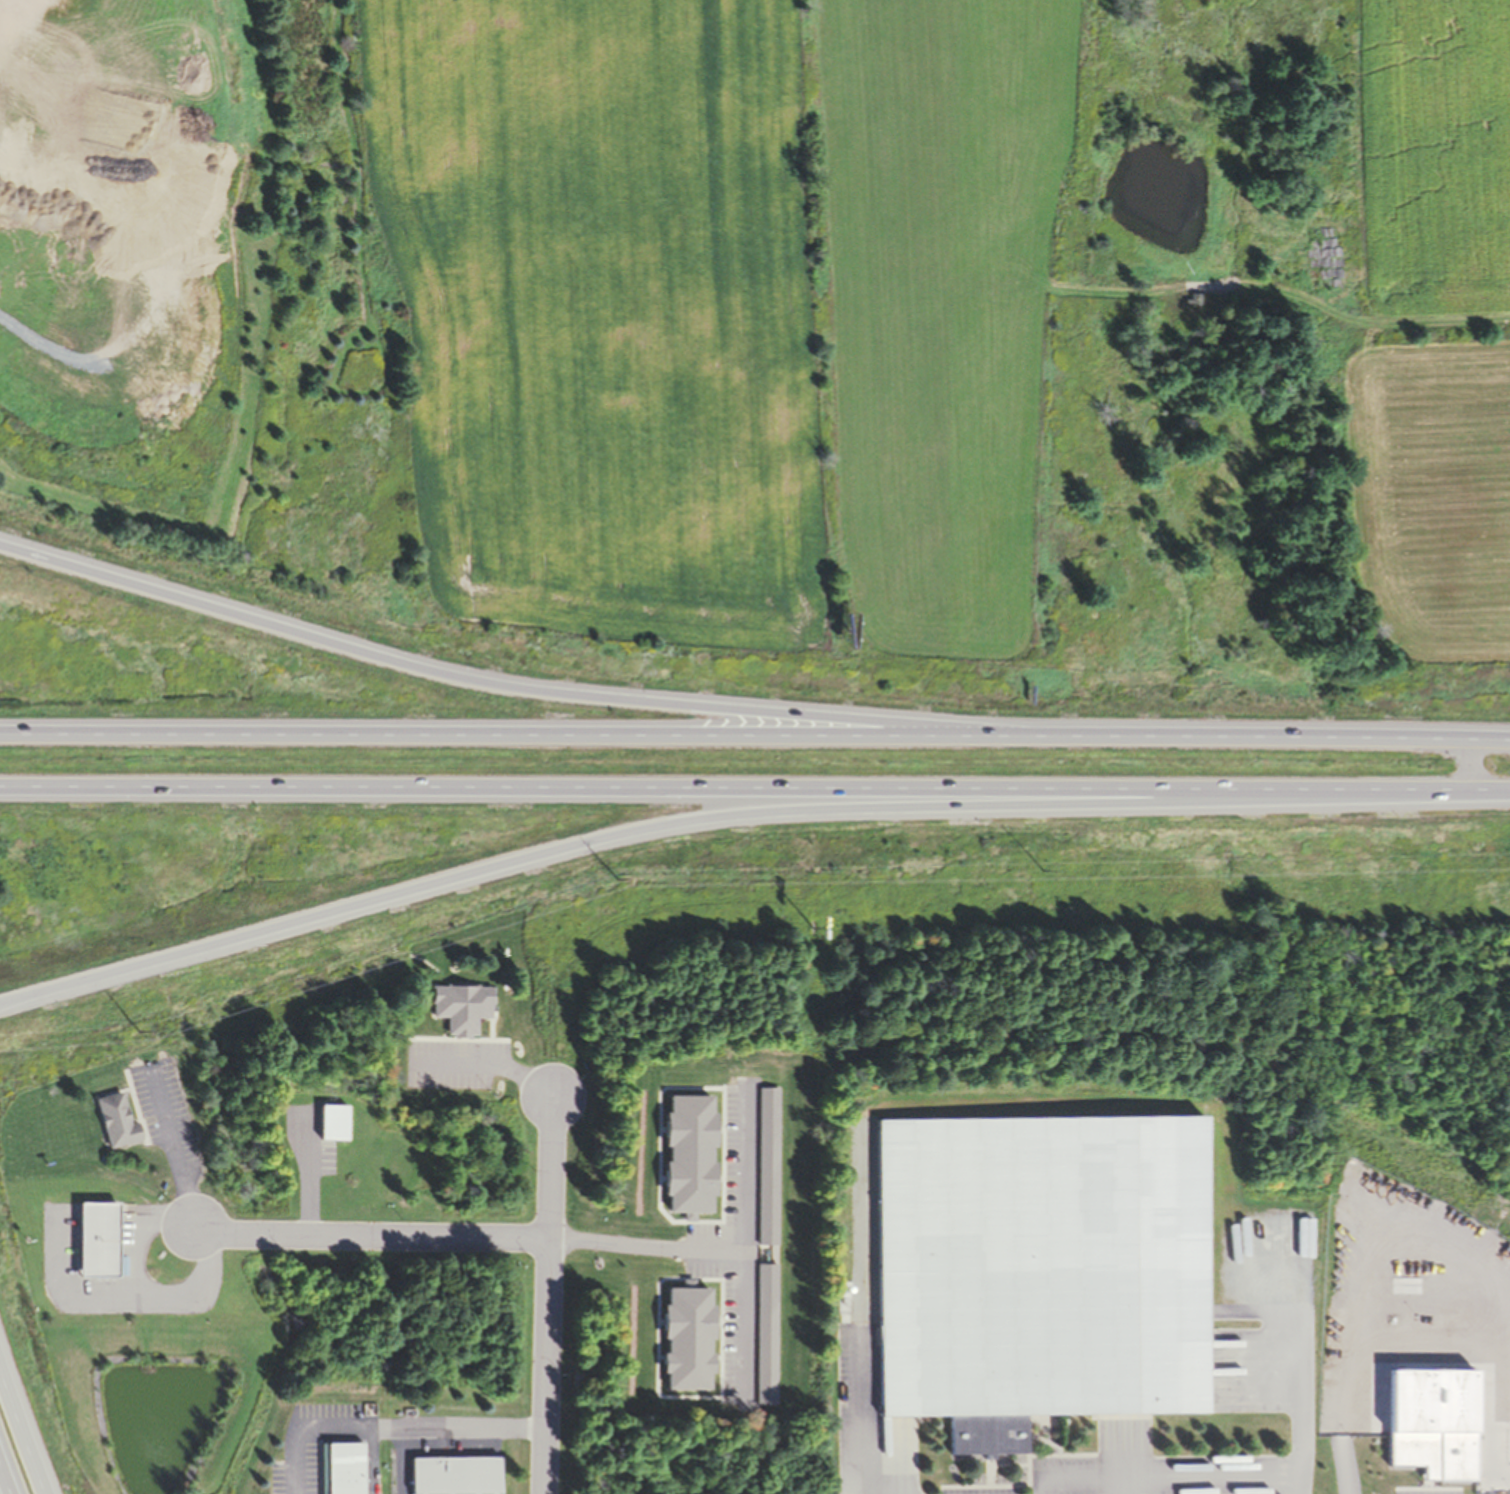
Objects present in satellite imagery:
building: (1191, 299)
road: (492, 680)
road: (755, 734)
road: (754, 790)
power tower: (1040, 867)
power tower: (614, 877)
road: (421, 888)
power tower: (137, 1028)
parking lot: (157, 1099)
building: (113, 1119)
road: (175, 1148)
road: (368, 1230)
building: (96, 1239)
building: (1040, 1259)
road: (549, 1291)
road: (136, 1294)
road: (20, 1437)
building: (340, 1468)
building: (454, 1475)
road: (3, 1485)

